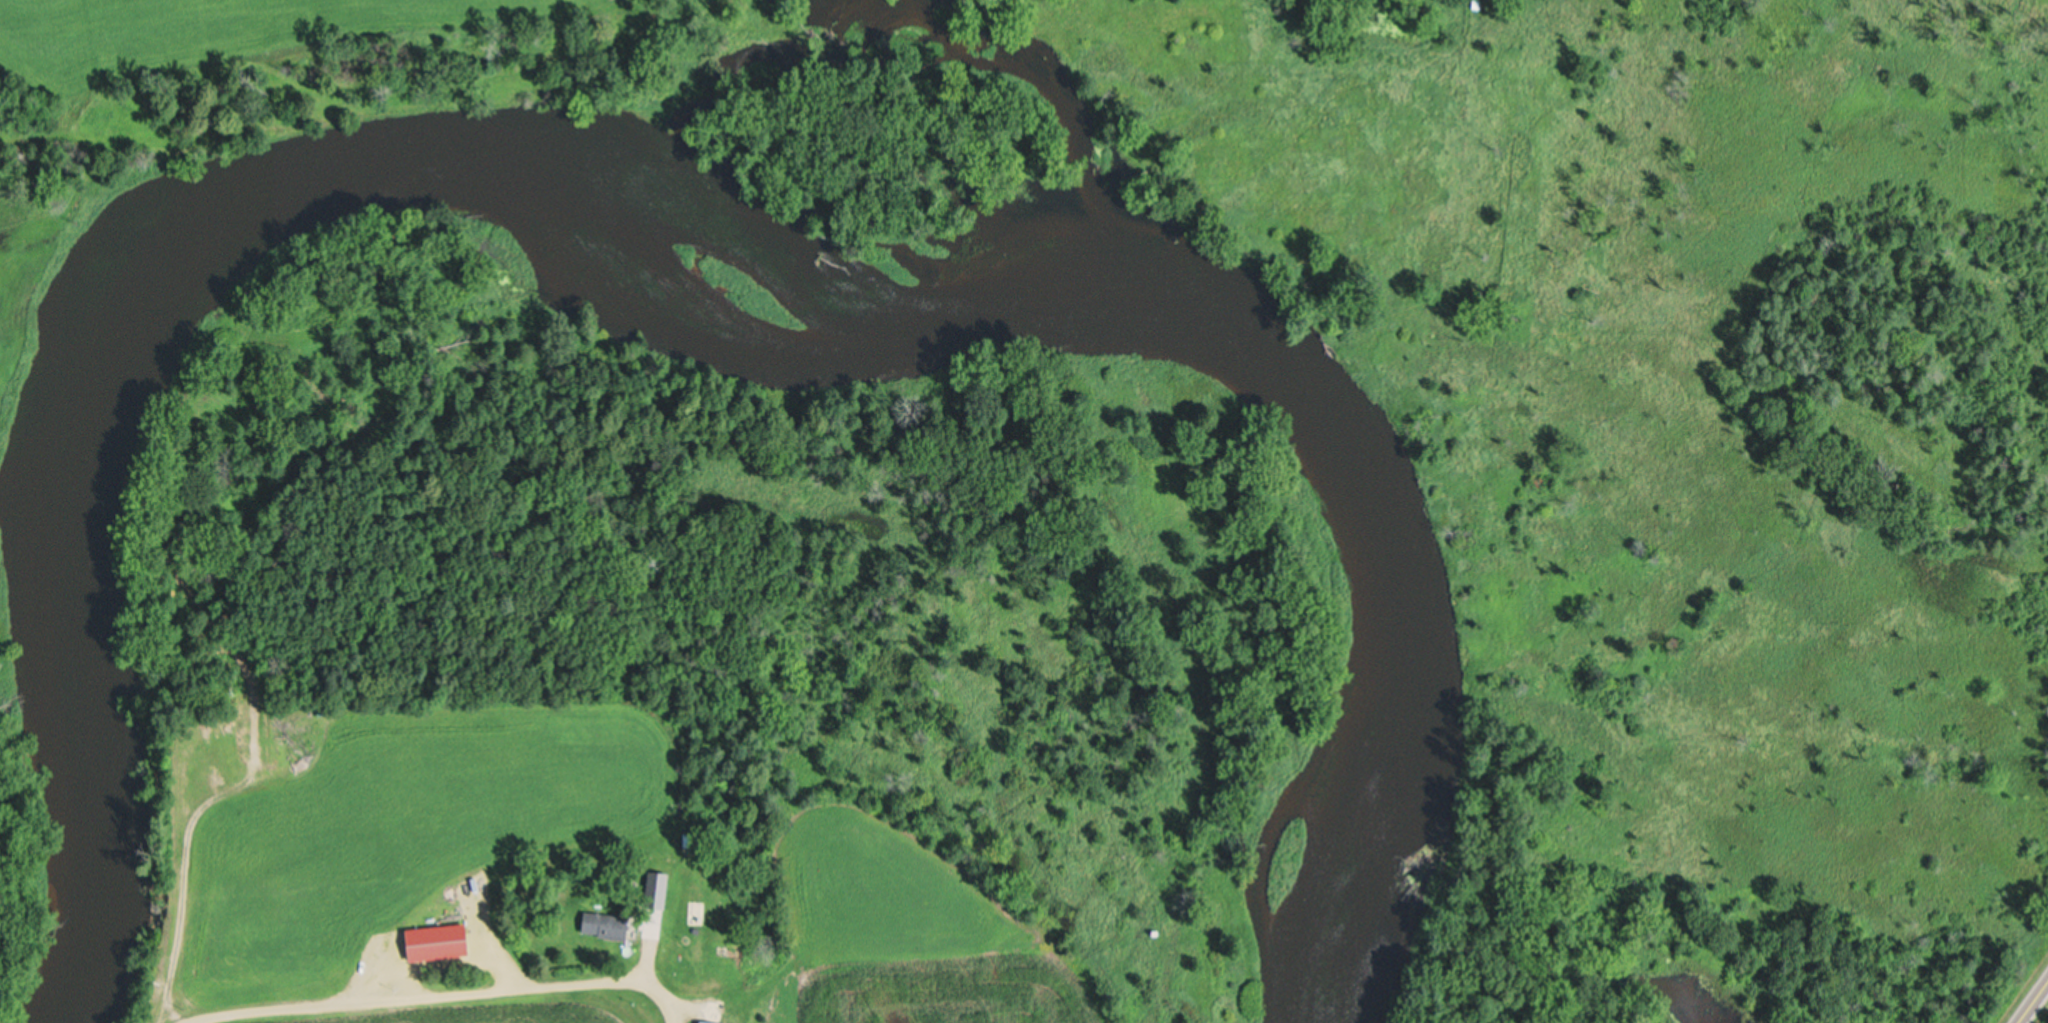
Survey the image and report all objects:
crop: (181, 34)
crop: (1, 115)
river: (666, 270)
crop: (384, 857)
building: (607, 926)
crop: (913, 928)
road: (405, 996)
road: (2032, 1000)
building: (710, 1022)

